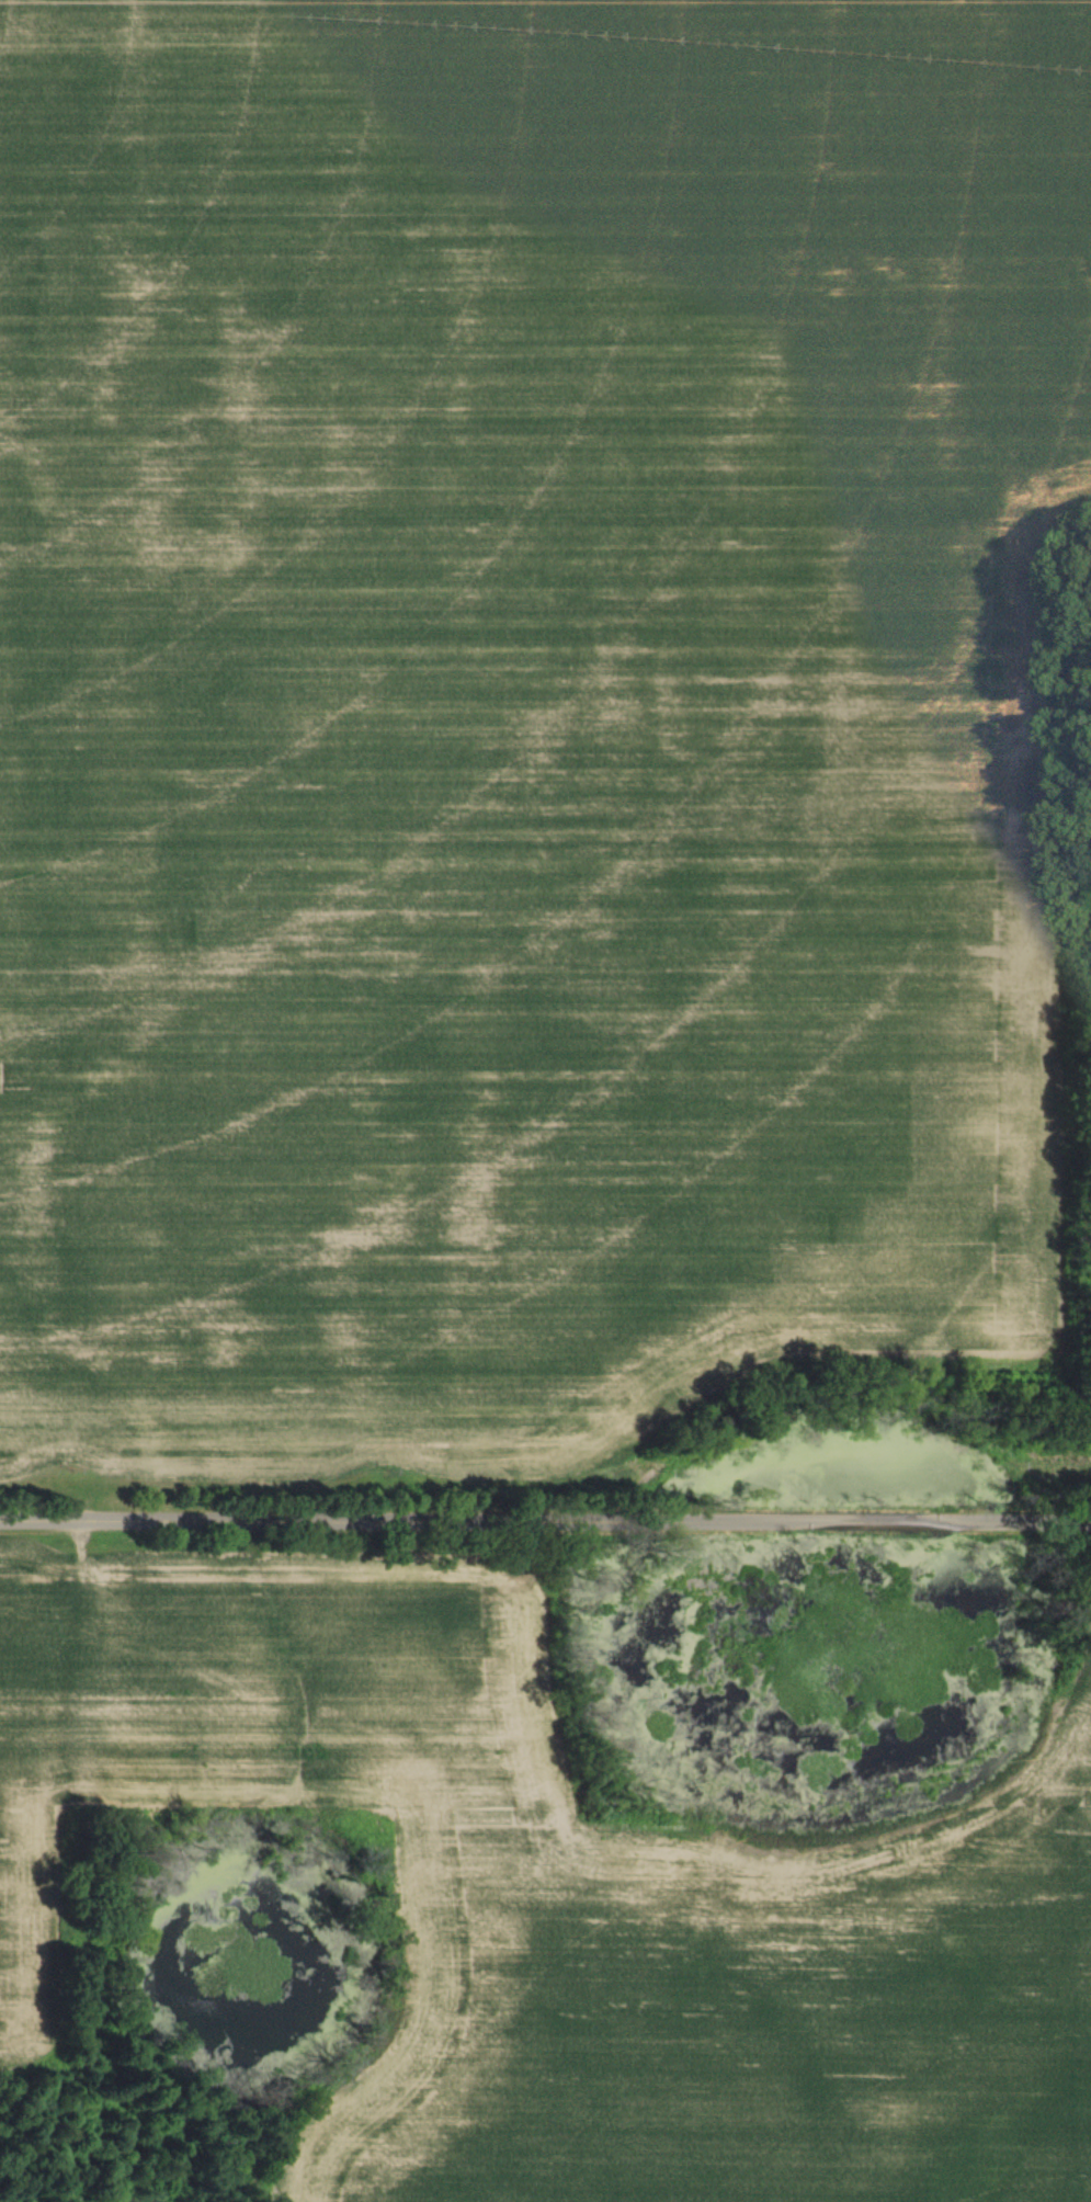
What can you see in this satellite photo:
crop: (521, 707)
road: (545, 1519)
crop: (567, 1894)

